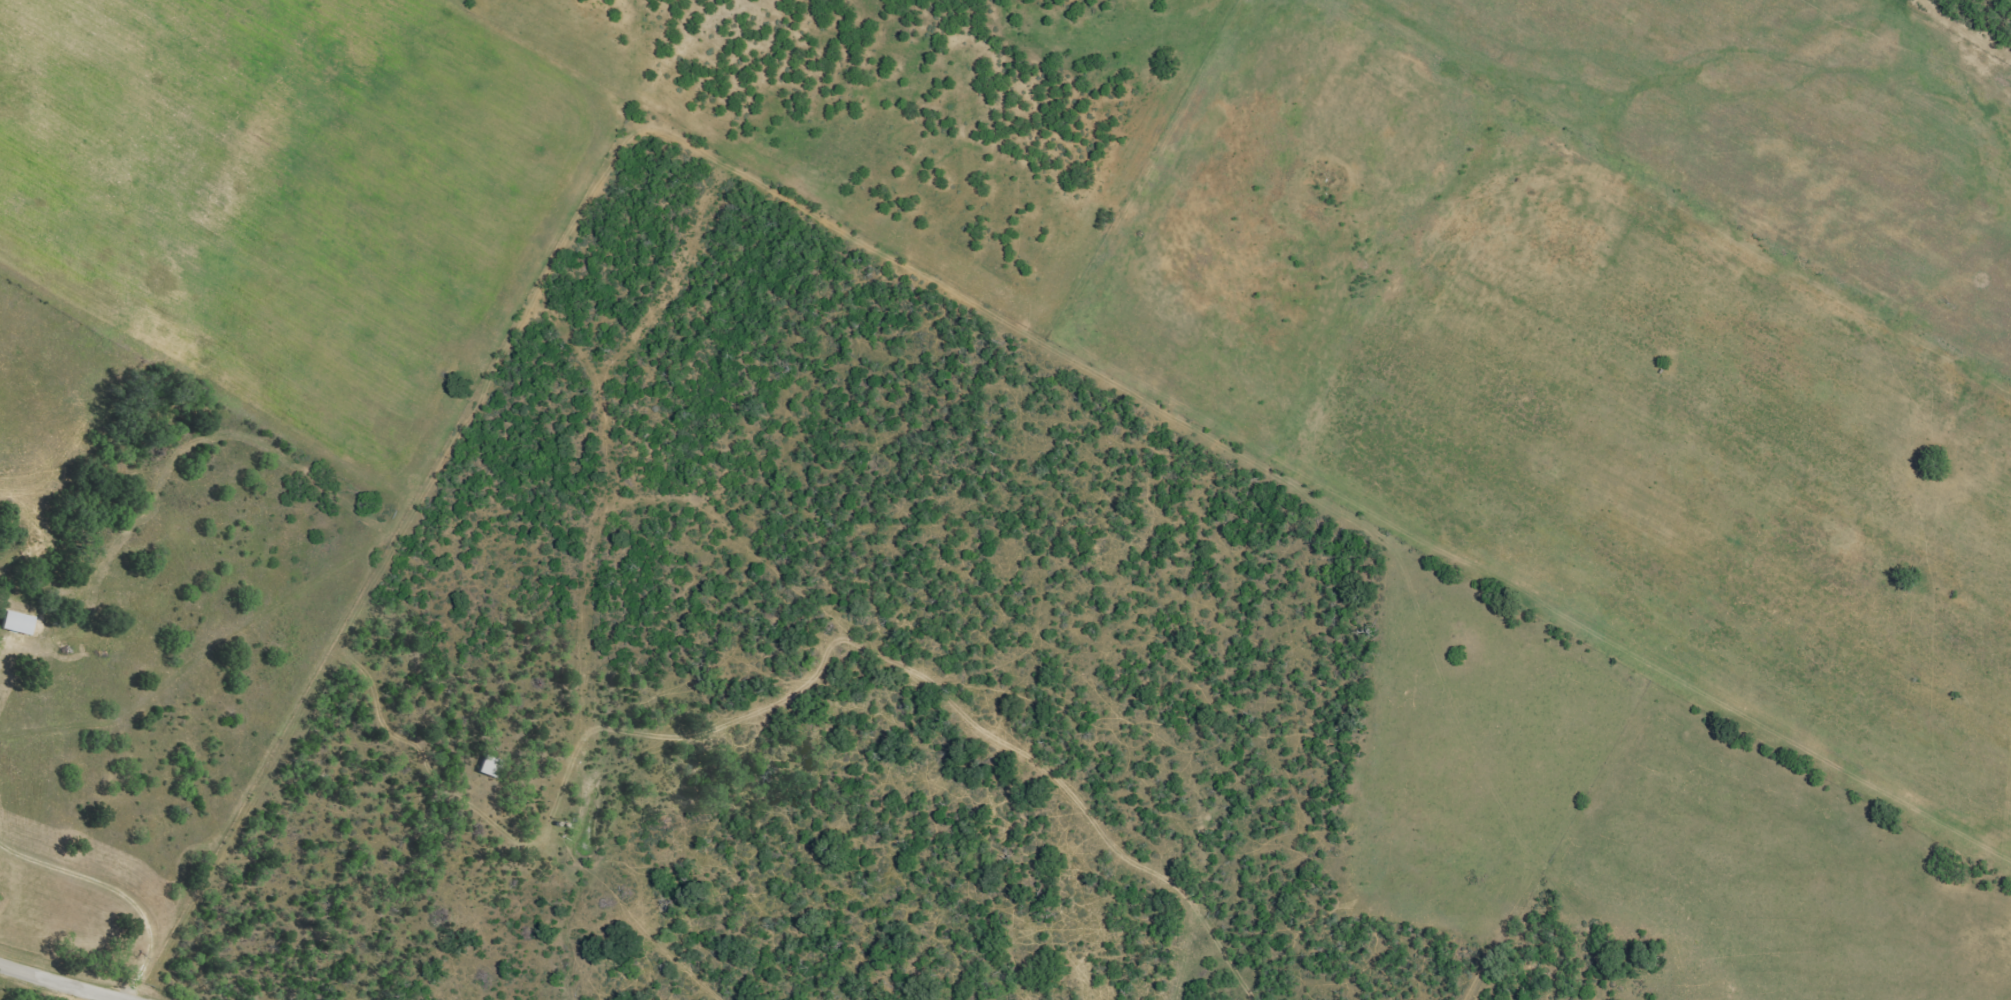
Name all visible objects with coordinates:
road: (377, 571)
building: (16, 621)
road: (1, 656)
building: (488, 765)
road: (120, 890)
road: (66, 981)

